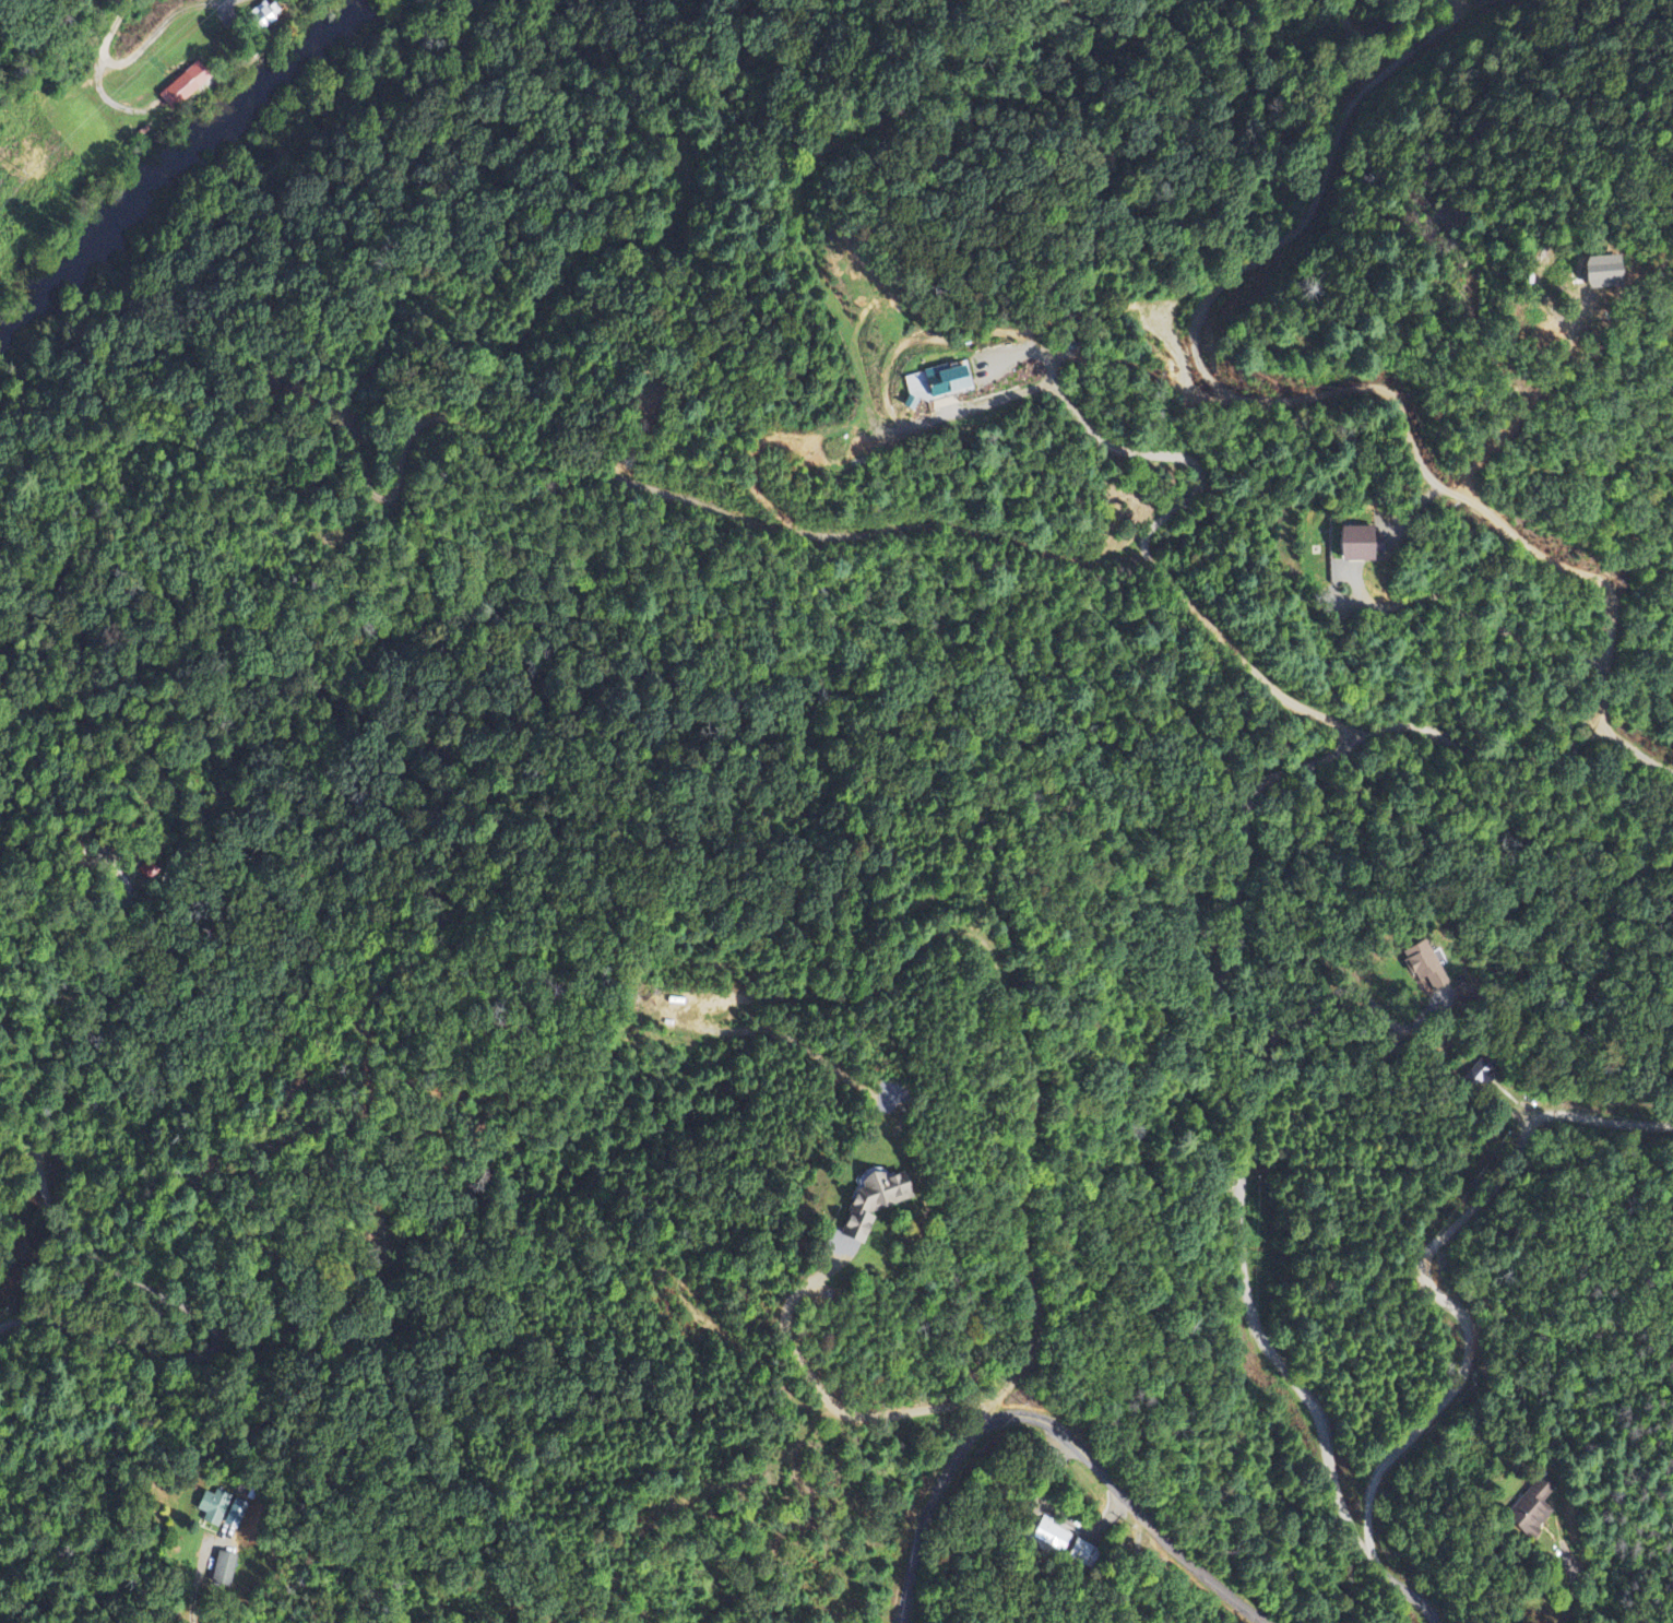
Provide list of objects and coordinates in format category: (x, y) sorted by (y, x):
building: (262, 15)
road: (138, 48)
building: (183, 86)
power tower: (22, 165)
river: (188, 170)
building: (1601, 271)
building: (933, 383)
building: (1356, 544)
building: (1423, 965)
building: (871, 1205)
road: (1236, 1208)
road: (1427, 1259)
road: (31, 1265)
road: (1027, 1420)
building: (222, 1511)
building: (1532, 1511)
road: (929, 1520)
building: (1053, 1535)
building: (1083, 1554)
building: (223, 1568)
road: (193, 1611)
road: (3, 1613)

